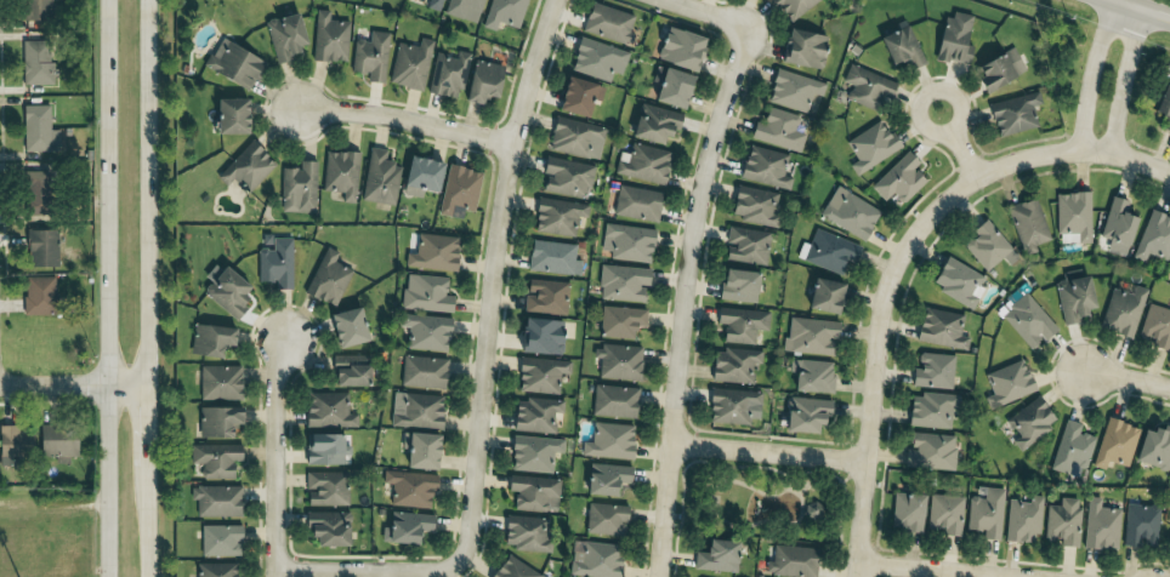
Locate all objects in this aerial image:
building: (433, 5)
building: (791, 7)
building: (34, 8)
road: (1141, 8)
building: (462, 10)
road: (706, 12)
building: (501, 13)
building: (607, 24)
building: (283, 36)
building: (328, 38)
building: (954, 39)
building: (899, 46)
building: (678, 48)
building: (801, 48)
building: (369, 56)
building: (596, 59)
building: (34, 62)
building: (232, 64)
building: (409, 64)
building: (998, 69)
building: (447, 74)
road: (1091, 74)
building: (481, 81)
road: (1124, 81)
building: (669, 87)
building: (865, 87)
building: (793, 90)
building: (577, 96)
building: (1163, 103)
building: (1013, 114)
building: (228, 115)
road: (403, 118)
building: (653, 124)
building: (36, 130)
building: (777, 130)
building: (574, 138)
road: (959, 144)
building: (869, 147)
road: (1073, 152)
building: (642, 164)
building: (244, 167)
building: (765, 167)
building: (339, 173)
building: (419, 176)
building: (566, 177)
building: (379, 178)
building: (898, 179)
building: (297, 188)
building: (458, 192)
building: (34, 193)
building: (636, 204)
building: (754, 206)
building: (848, 213)
building: (1073, 215)
building: (556, 217)
building: (1027, 223)
building: (1115, 225)
building: (1153, 238)
building: (626, 242)
building: (745, 245)
building: (987, 246)
building: (40, 247)
building: (827, 251)
building: (431, 253)
building: (552, 257)
building: (273, 262)
building: (326, 279)
road: (489, 279)
building: (956, 281)
building: (621, 282)
building: (737, 285)
road: (104, 287)
road: (147, 288)
building: (225, 292)
building: (425, 293)
building: (38, 296)
building: (823, 296)
building: (1072, 296)
building: (545, 297)
road: (678, 302)
building: (1121, 312)
building: (1026, 320)
building: (619, 321)
building: (740, 324)
building: (1155, 326)
building: (345, 327)
building: (941, 329)
building: (425, 332)
building: (539, 336)
building: (810, 336)
building: (209, 339)
road: (873, 358)
building: (618, 362)
building: (733, 365)
building: (347, 371)
building: (932, 371)
building: (422, 372)
building: (539, 375)
building: (811, 376)
building: (218, 382)
road: (1129, 382)
building: (1007, 383)
road: (73, 385)
building: (613, 401)
building: (729, 405)
building: (328, 411)
building: (414, 411)
building: (930, 411)
building: (805, 413)
building: (534, 415)
building: (216, 421)
building: (1029, 422)
building: (608, 441)
building: (56, 442)
building: (15, 444)
building: (1114, 444)
building: (323, 449)
building: (1070, 449)
building: (1153, 449)
building: (418, 451)
road: (767, 452)
building: (930, 452)
building: (533, 453)
building: (214, 459)
road: (277, 459)
building: (604, 479)
building: (325, 489)
building: (409, 489)
building: (532, 493)
building: (215, 501)
building: (905, 513)
building: (984, 513)
building: (944, 514)
building: (604, 519)
building: (1021, 520)
building: (1062, 522)
building: (1098, 525)
building: (1138, 525)
building: (404, 526)
building: (325, 529)
building: (524, 533)
building: (1168, 539)
building: (218, 541)
building: (716, 556)
building: (593, 559)
building: (791, 561)
building: (512, 569)
building: (215, 570)
road: (924, 570)
road: (365, 576)

